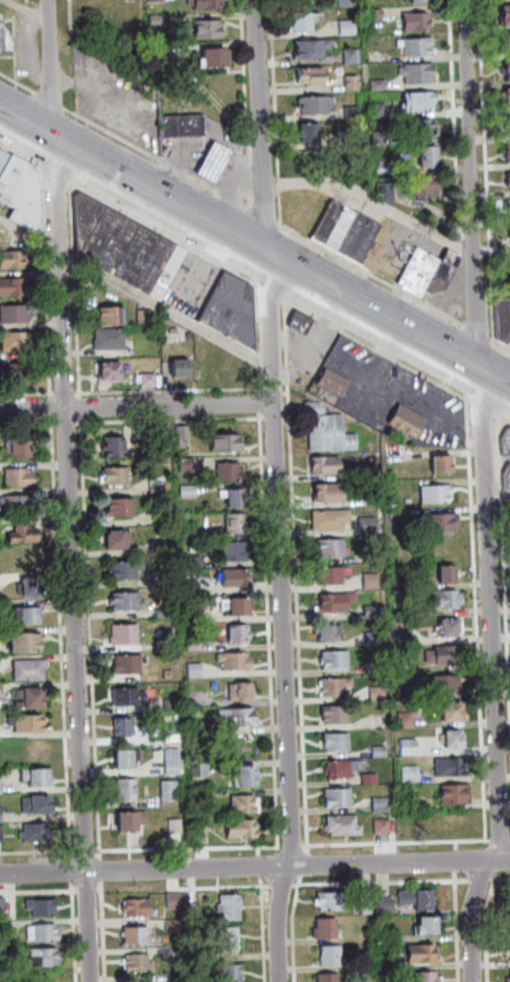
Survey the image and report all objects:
building: (157, 0)
building: (303, 1)
building: (421, 1)
building: (348, 3)
building: (209, 5)
building: (377, 14)
building: (507, 15)
building: (158, 19)
building: (306, 21)
building: (418, 22)
building: (211, 28)
building: (349, 28)
building: (5, 39)
road: (17, 39)
building: (506, 44)
building: (420, 47)
building: (313, 49)
building: (352, 56)
building: (217, 58)
road: (134, 71)
building: (508, 71)
building: (419, 73)
building: (312, 77)
building: (354, 83)
building: (379, 85)
building: (508, 97)
building: (421, 102)
road: (249, 105)
building: (317, 105)
building: (379, 111)
road: (278, 113)
building: (354, 113)
building: (509, 124)
road: (457, 125)
building: (183, 126)
building: (426, 129)
building: (310, 133)
building: (381, 138)
building: (347, 139)
road: (125, 141)
building: (509, 153)
building: (430, 158)
building: (215, 163)
building: (383, 166)
road: (489, 171)
building: (509, 177)
building: (425, 186)
building: (21, 190)
building: (388, 192)
road: (375, 202)
building: (508, 207)
road: (266, 217)
building: (335, 226)
building: (509, 234)
building: (359, 239)
building: (127, 248)
road: (255, 249)
building: (373, 257)
building: (12, 260)
building: (420, 272)
building: (445, 272)
road: (374, 276)
building: (14, 287)
road: (136, 292)
building: (234, 310)
building: (15, 314)
building: (114, 316)
building: (148, 317)
building: (504, 320)
building: (302, 323)
road: (481, 334)
building: (111, 339)
building: (18, 342)
road: (503, 345)
road: (378, 350)
road: (168, 356)
building: (183, 369)
building: (112, 372)
building: (17, 373)
building: (223, 375)
building: (152, 379)
road: (507, 380)
building: (334, 382)
road: (137, 405)
road: (485, 409)
road: (506, 421)
building: (409, 422)
road: (277, 425)
building: (328, 431)
building: (185, 433)
building: (119, 436)
building: (228, 444)
building: (507, 446)
building: (20, 448)
building: (117, 448)
building: (188, 465)
building: (442, 465)
building: (327, 466)
building: (231, 472)
building: (118, 477)
building: (20, 478)
building: (509, 479)
building: (156, 484)
road: (72, 491)
building: (190, 491)
road: (490, 493)
building: (329, 494)
building: (439, 495)
building: (235, 499)
building: (410, 502)
building: (18, 504)
building: (122, 509)
building: (399, 513)
building: (331, 520)
building: (237, 524)
building: (444, 524)
building: (369, 525)
building: (23, 536)
building: (120, 540)
building: (333, 549)
building: (237, 552)
building: (375, 557)
building: (376, 568)
building: (127, 571)
building: (329, 576)
building: (448, 576)
building: (234, 579)
building: (372, 582)
building: (401, 584)
building: (32, 589)
building: (446, 600)
building: (338, 602)
building: (129, 603)
building: (237, 608)
building: (373, 612)
building: (29, 617)
building: (448, 630)
building: (328, 634)
building: (126, 635)
building: (240, 636)
building: (407, 638)
building: (374, 639)
building: (26, 644)
building: (196, 647)
building: (447, 656)
building: (336, 660)
building: (237, 662)
building: (129, 666)
building: (376, 668)
building: (31, 671)
building: (197, 671)
building: (447, 684)
building: (336, 688)
building: (242, 693)
building: (378, 694)
building: (130, 698)
building: (32, 699)
building: (453, 714)
building: (335, 715)
building: (239, 718)
building: (407, 720)
building: (29, 725)
building: (170, 727)
building: (125, 728)
building: (338, 741)
building: (455, 741)
building: (410, 748)
building: (38, 750)
building: (381, 752)
building: (128, 760)
building: (171, 760)
building: (450, 768)
building: (343, 769)
building: (202, 770)
building: (411, 775)
building: (38, 778)
building: (250, 778)
building: (371, 780)
building: (2, 787)
building: (129, 791)
building: (167, 791)
building: (457, 795)
building: (339, 798)
building: (383, 805)
building: (38, 806)
building: (247, 806)
building: (1, 815)
building: (451, 820)
building: (133, 822)
building: (174, 824)
building: (345, 827)
building: (383, 827)
building: (243, 830)
building: (2, 833)
building: (38, 834)
road: (254, 867)
building: (509, 892)
building: (176, 901)
building: (418, 901)
building: (333, 903)
building: (3, 906)
building: (368, 906)
building: (386, 907)
building: (43, 908)
building: (139, 909)
building: (231, 909)
building: (195, 911)
road: (281, 915)
building: (176, 926)
building: (7, 928)
building: (428, 928)
building: (327, 929)
building: (45, 934)
building: (387, 936)
building: (136, 937)
building: (229, 941)
building: (509, 949)
building: (3, 953)
building: (177, 953)
building: (423, 955)
building: (332, 957)
building: (45, 959)
building: (390, 961)
building: (141, 964)
building: (367, 965)
building: (236, 973)
building: (44, 976)
building: (428, 977)
building: (178, 978)
building: (329, 978)
building: (509, 980)
building: (137, 981)

